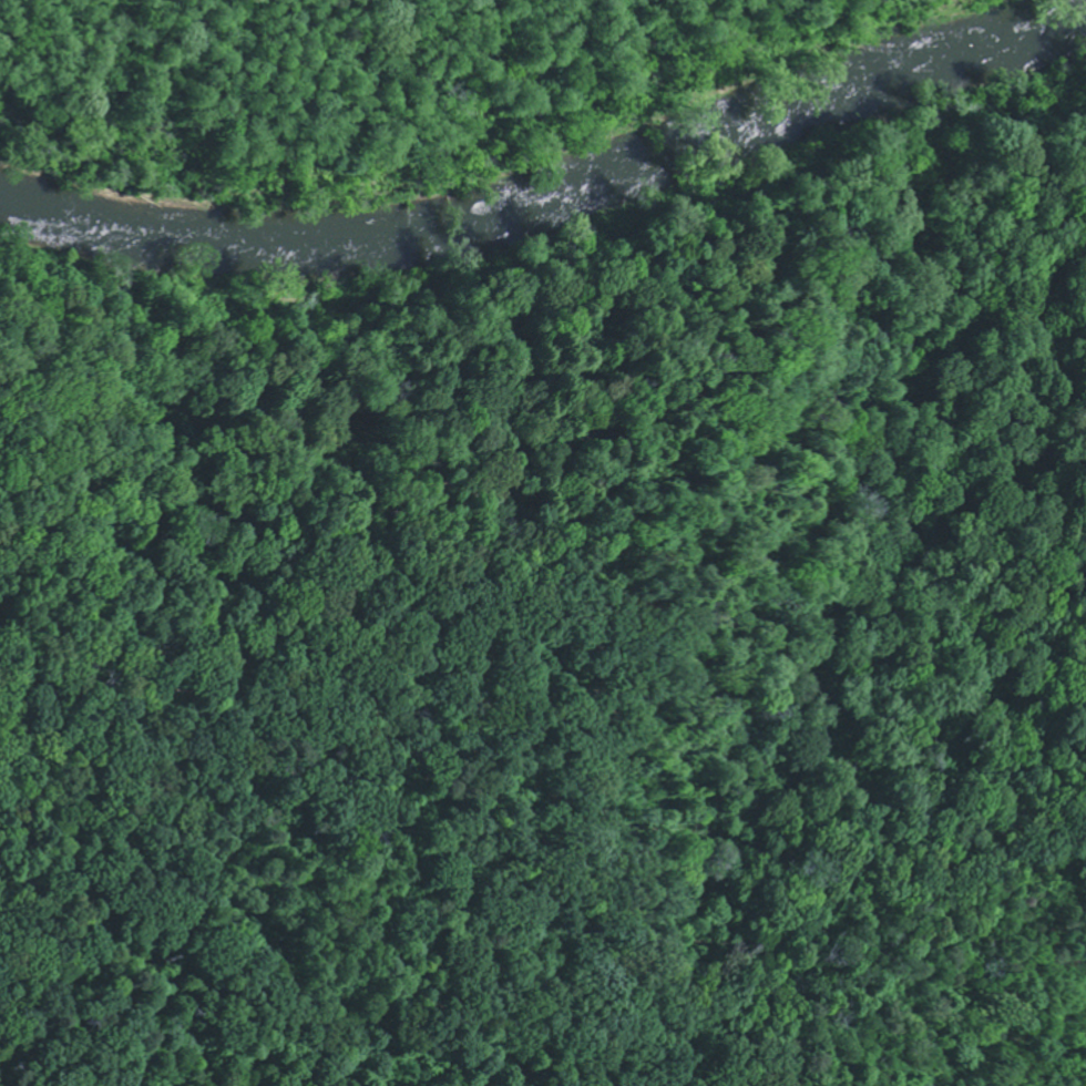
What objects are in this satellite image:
river: (552, 208)

